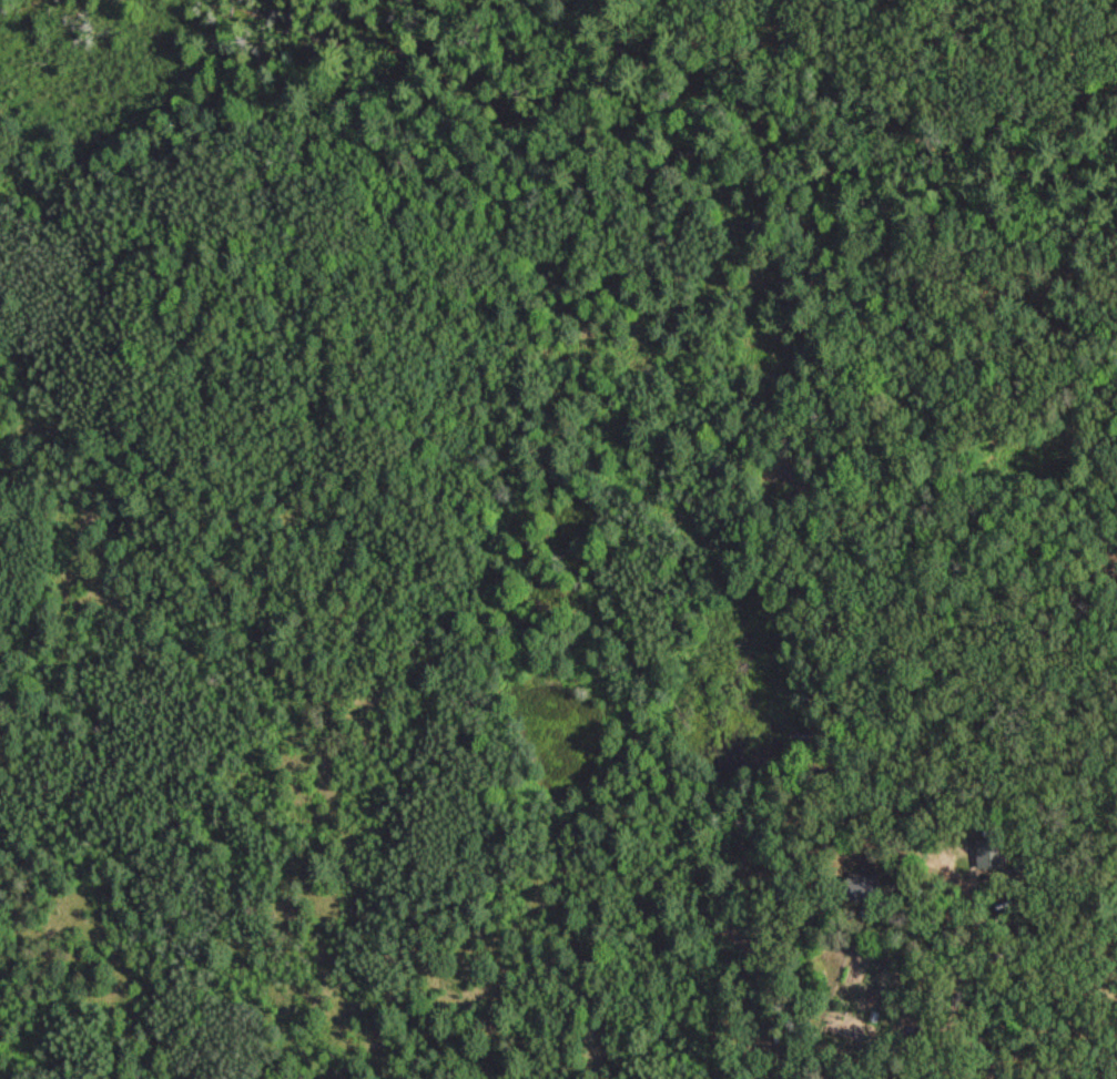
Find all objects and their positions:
road: (1089, 877)

